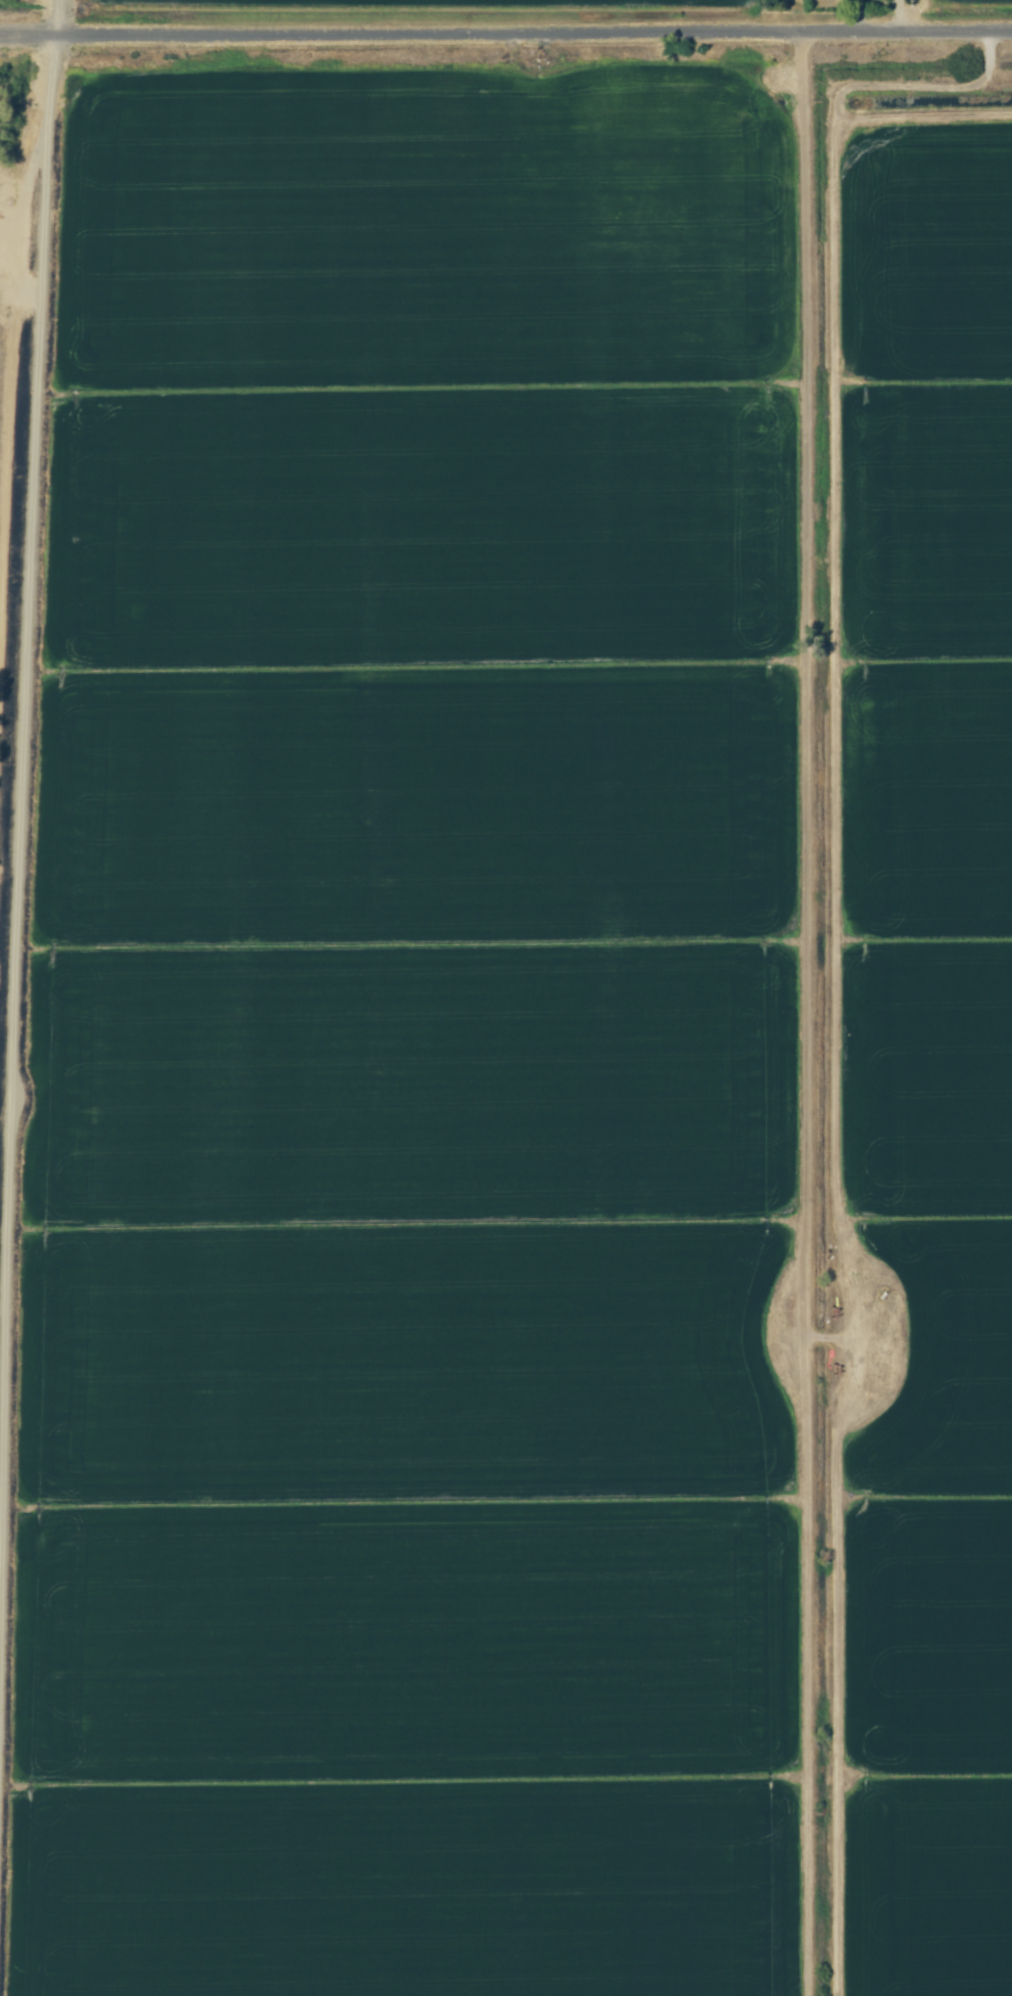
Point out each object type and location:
road: (506, 42)

